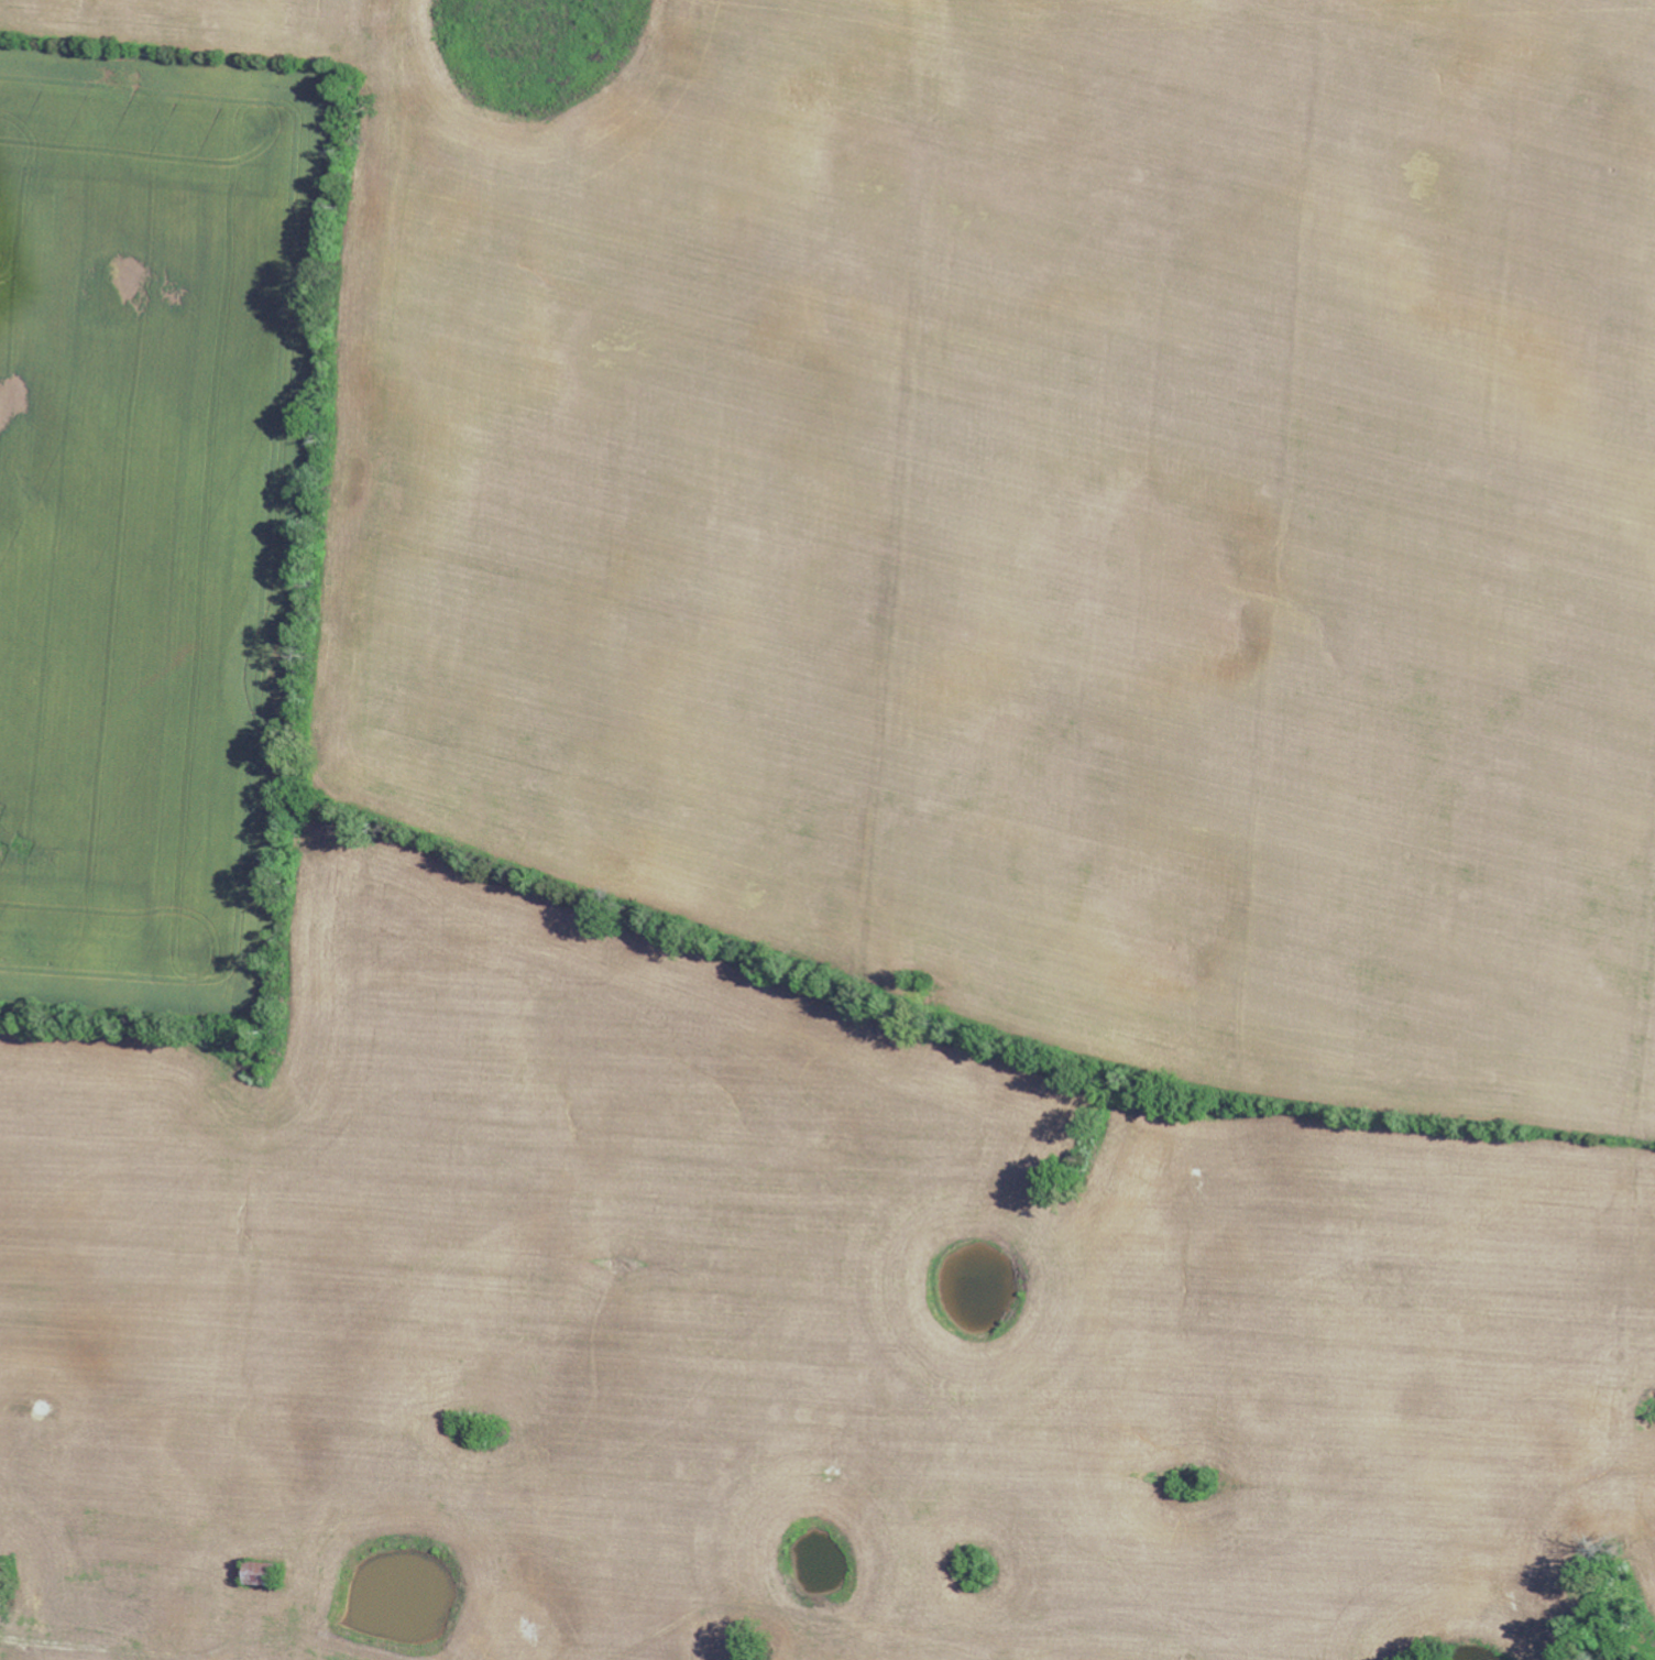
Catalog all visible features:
road: (833, 1630)
road: (176, 1643)

